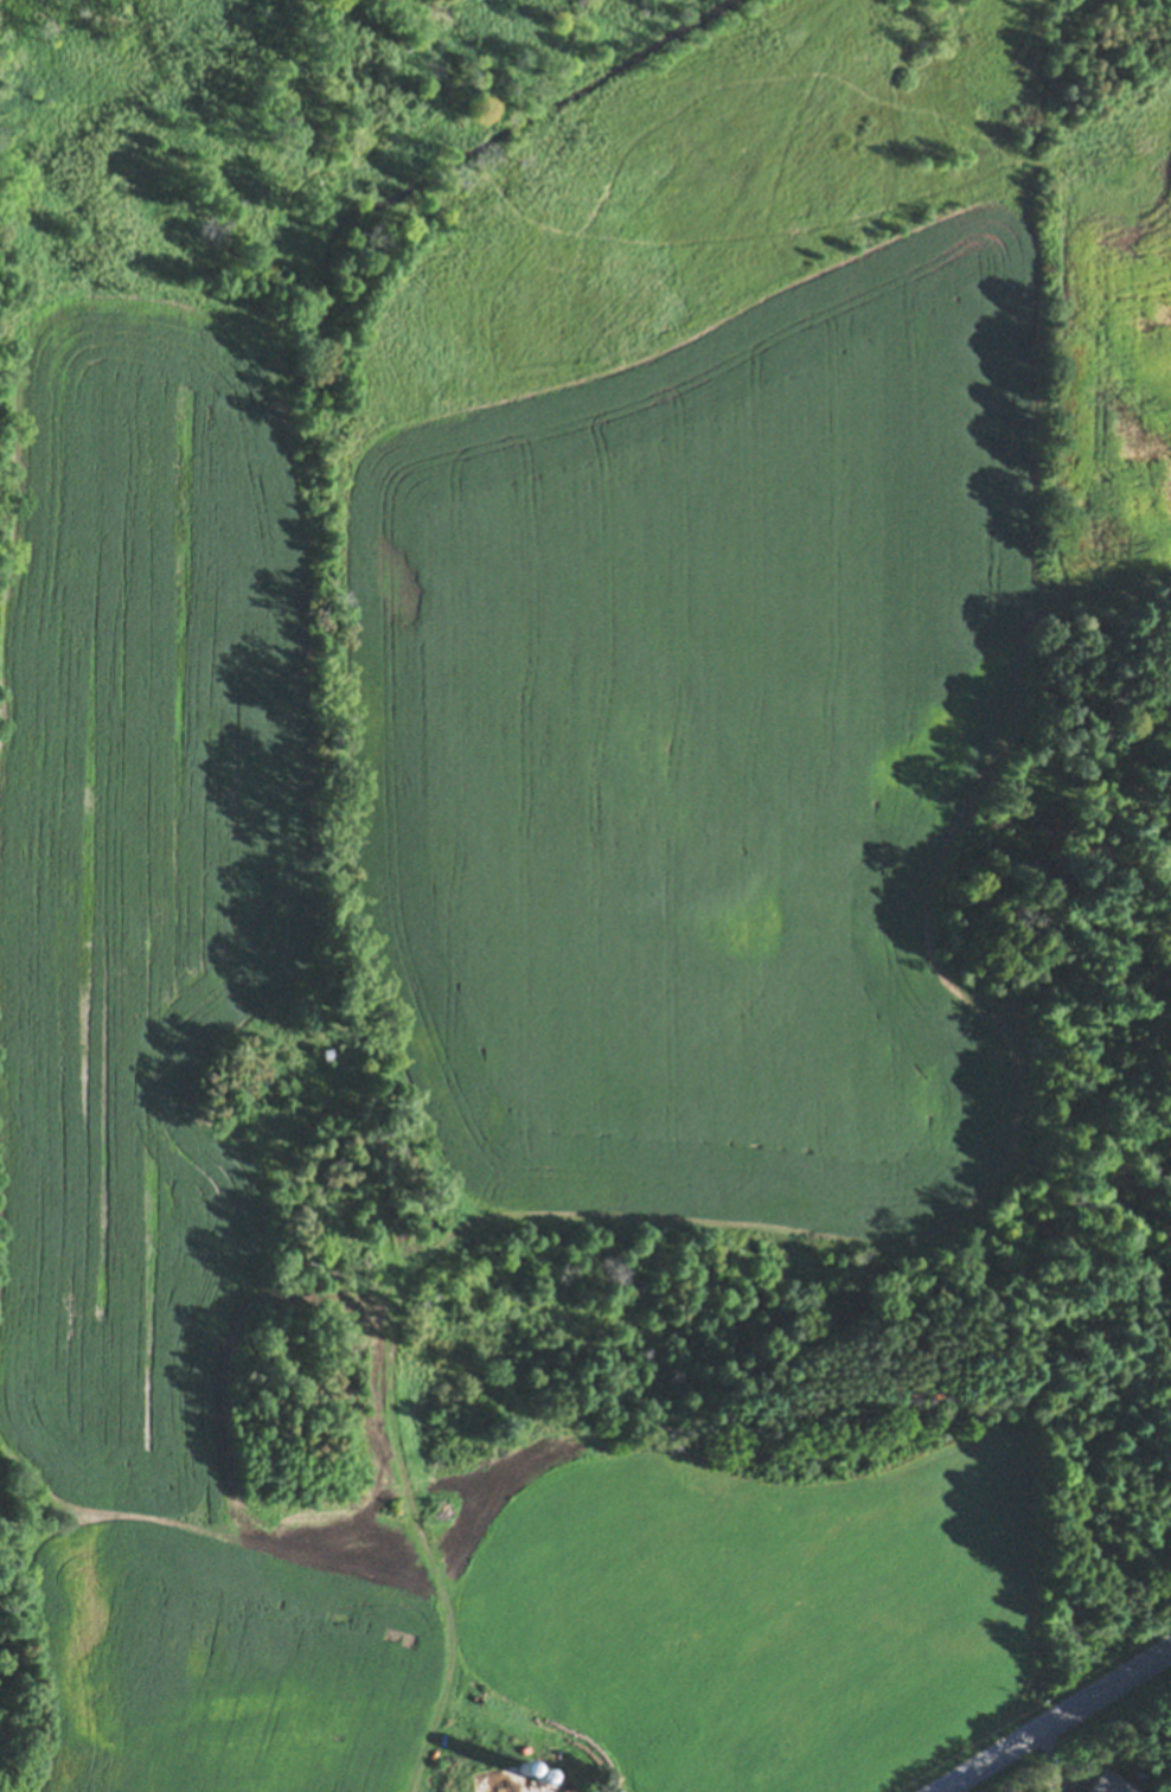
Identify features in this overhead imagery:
road: (1054, 1719)
building: (525, 1767)
building: (543, 1775)
building: (1090, 1791)

